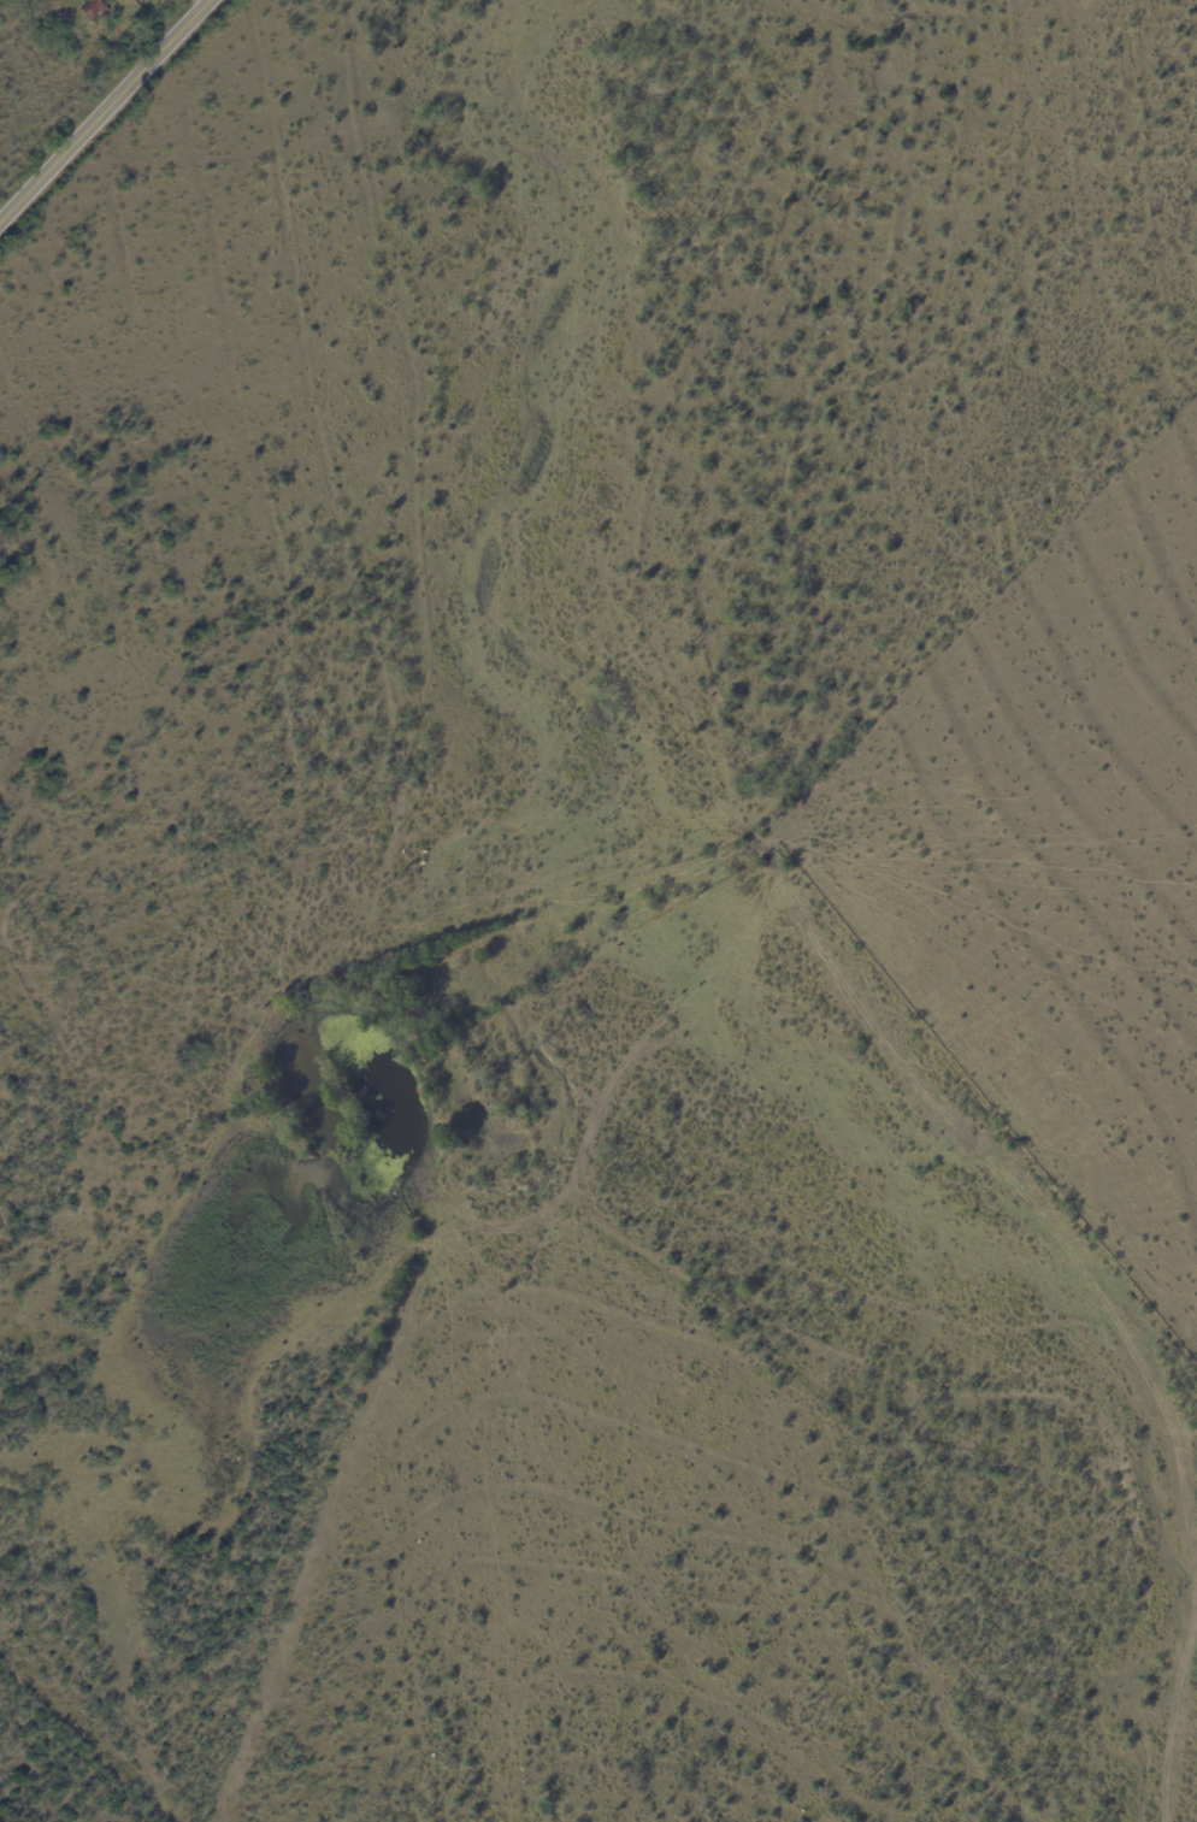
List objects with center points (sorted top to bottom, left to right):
building: (93, 12)
road: (104, 110)

